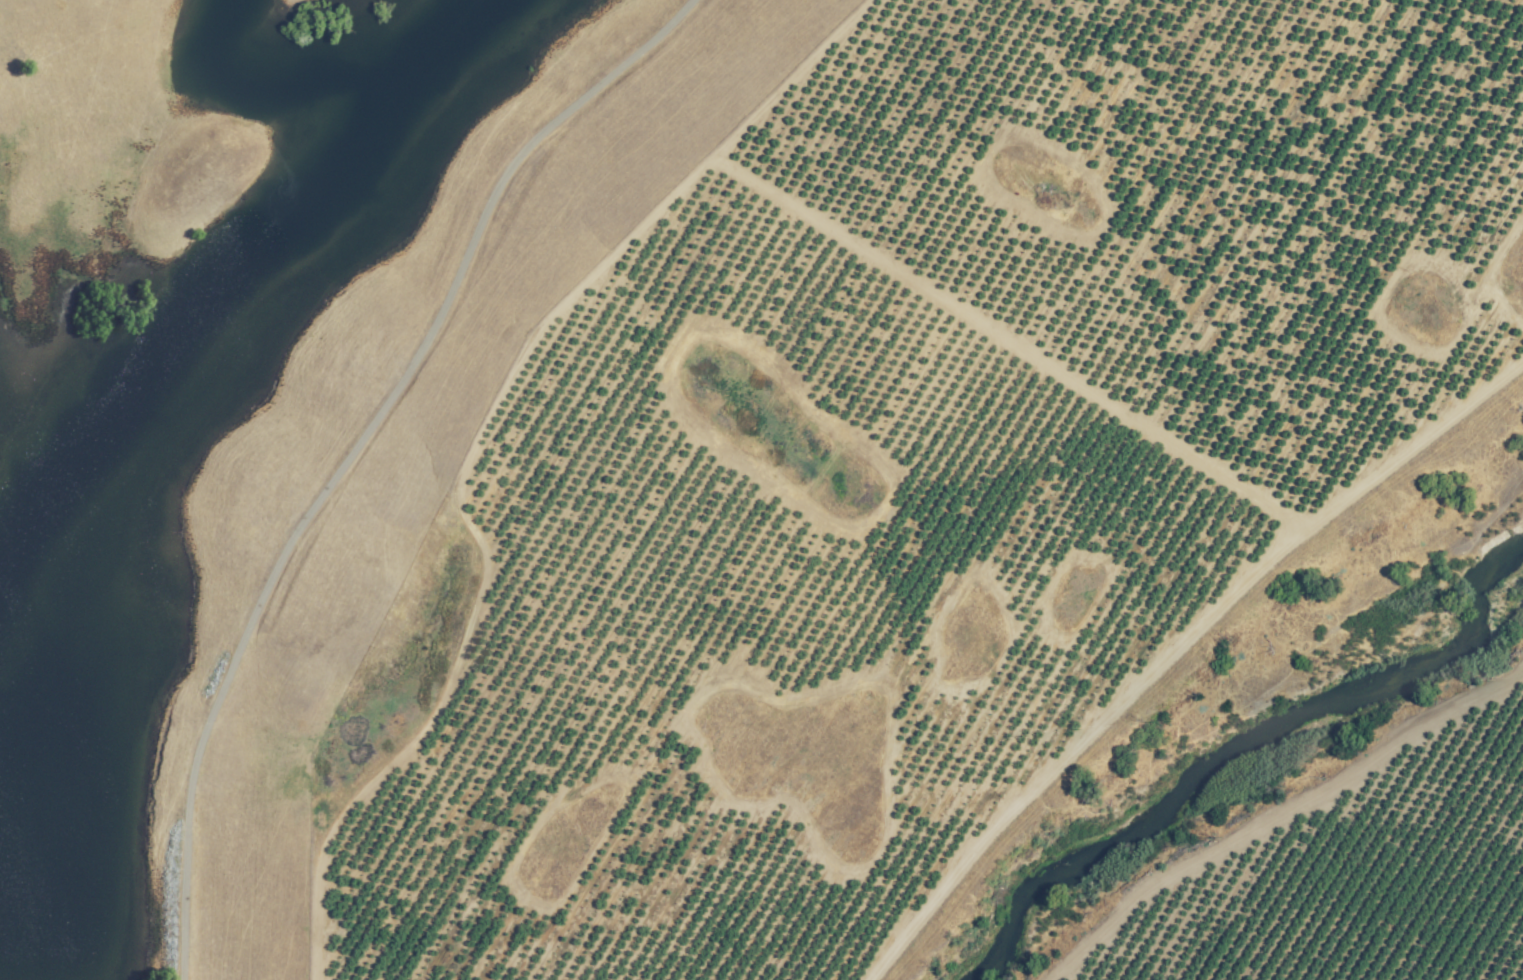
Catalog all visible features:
road: (325, 452)
river: (1237, 765)

